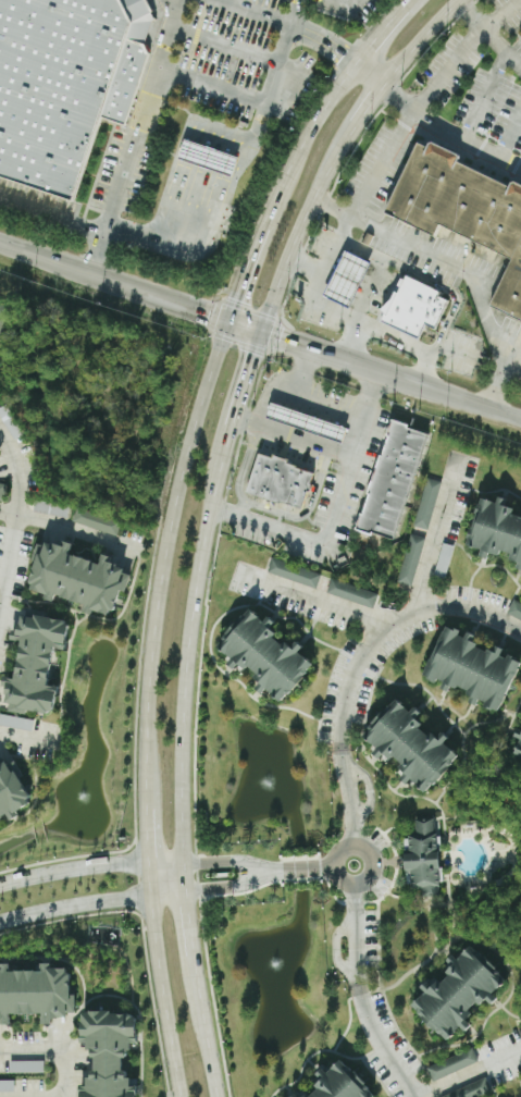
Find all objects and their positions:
road: (338, 2)
road: (256, 12)
road: (379, 34)
road: (312, 37)
road: (488, 38)
road: (419, 44)
road: (225, 45)
road: (278, 63)
road: (364, 78)
building: (61, 81)
road: (212, 84)
road: (483, 97)
road: (322, 113)
road: (401, 122)
road: (355, 126)
road: (447, 132)
road: (510, 135)
road: (136, 136)
building: (202, 158)
gas station: (202, 158)
building: (466, 212)
road: (51, 215)
road: (214, 217)
road: (258, 237)
road: (291, 246)
road: (45, 255)
road: (454, 270)
building: (345, 275)
gas station: (345, 275)
road: (159, 295)
traffic signals: (235, 298)
road: (48, 300)
building: (414, 304)
traffic signals: (211, 315)
building: (2, 316)
road: (350, 319)
road: (245, 326)
road: (57, 333)
traffic signals: (278, 338)
road: (157, 340)
road: (351, 341)
road: (319, 350)
traffic signals: (255, 353)
road: (119, 356)
road: (282, 378)
road: (173, 380)
road: (90, 387)
road: (449, 392)
road: (332, 396)
road: (238, 398)
building: (306, 415)
gas station: (306, 415)
building: (333, 432)
road: (290, 434)
building: (393, 472)
building: (277, 473)
building: (1, 491)
building: (426, 503)
building: (50, 507)
road: (335, 508)
road: (15, 519)
building: (96, 521)
building: (497, 525)
road: (71, 528)
road: (437, 535)
road: (164, 555)
building: (411, 558)
building: (443, 560)
building: (79, 574)
building: (294, 574)
building: (352, 592)
road: (311, 601)
road: (0, 603)
building: (516, 608)
road: (390, 626)
building: (268, 655)
building: (36, 660)
building: (474, 665)
road: (186, 677)
building: (15, 723)
road: (28, 739)
building: (411, 741)
building: (518, 748)
fountain: (268, 784)
building: (14, 787)
road: (347, 797)
fountain: (84, 798)
road: (147, 828)
building: (423, 855)
road: (232, 862)
road: (90, 866)
road: (326, 868)
road: (300, 871)
road: (149, 878)
road: (352, 884)
road: (234, 885)
road: (168, 895)
road: (74, 905)
road: (189, 928)
road: (357, 933)
fountain: (272, 961)
building: (35, 989)
building: (459, 990)
road: (164, 997)
road: (206, 1031)
road: (381, 1041)
road: (54, 1051)
building: (111, 1052)
building: (450, 1064)
road: (468, 1073)
building: (340, 1083)
building: (5, 1085)
building: (471, 1089)
building: (303, 1095)

